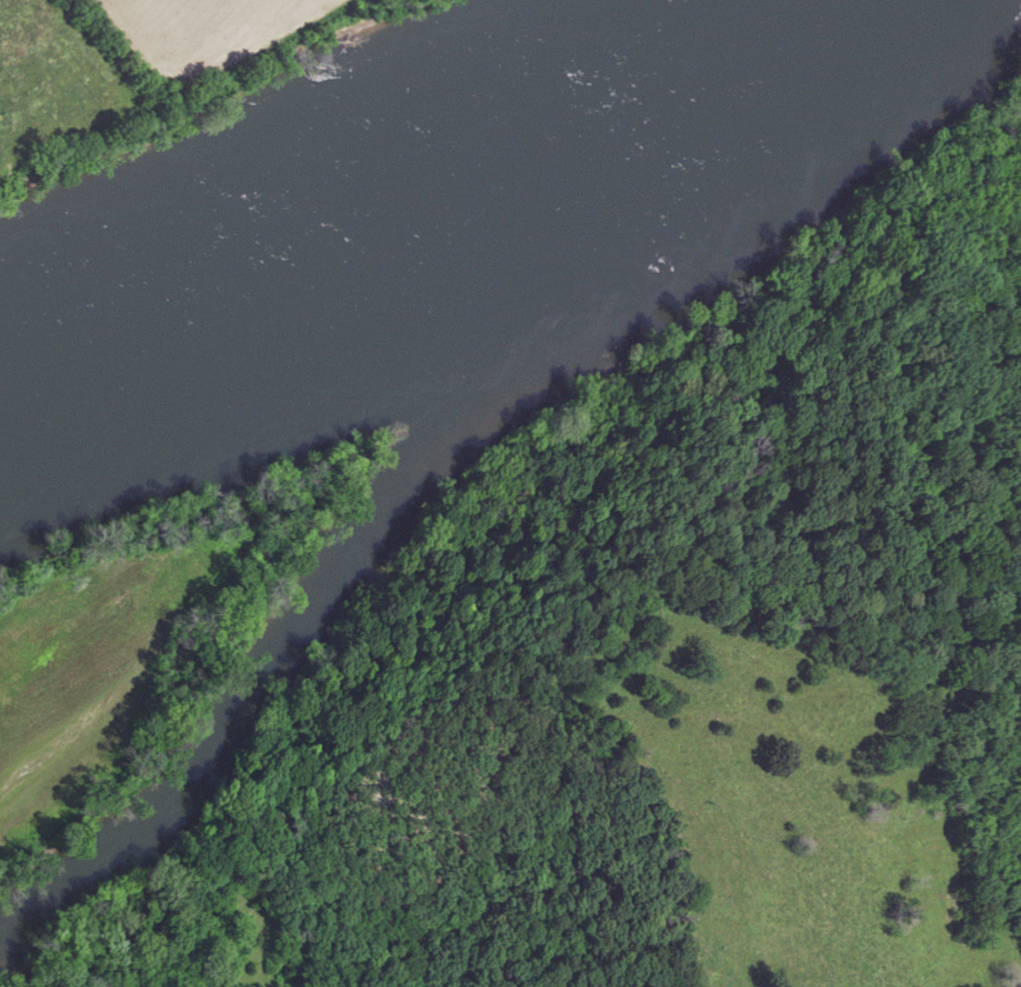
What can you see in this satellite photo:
river: (389, 230)

